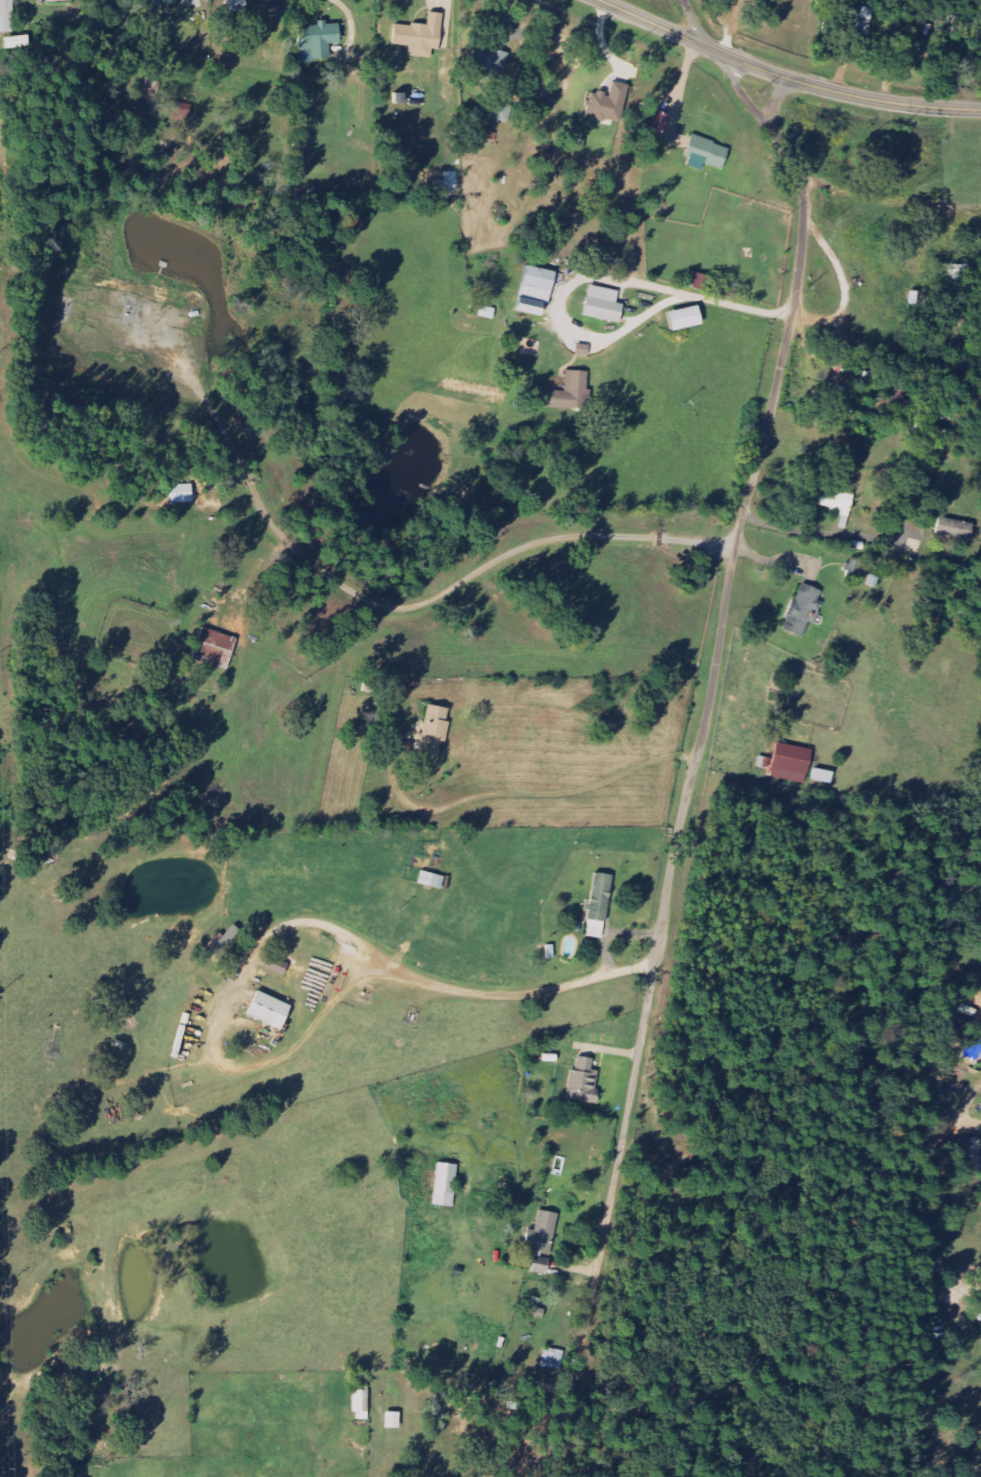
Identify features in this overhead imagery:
building: (161, 2)
building: (239, 6)
building: (268, 7)
building: (7, 15)
road: (694, 21)
building: (422, 36)
building: (319, 41)
building: (18, 42)
building: (490, 57)
road: (784, 76)
road: (773, 101)
building: (608, 104)
building: (183, 112)
building: (660, 125)
building: (708, 154)
road: (889, 201)
building: (960, 278)
building: (698, 280)
building: (538, 291)
building: (606, 304)
building: (488, 312)
building: (687, 318)
building: (183, 493)
building: (839, 503)
building: (956, 528)
building: (805, 608)
road: (718, 633)
building: (216, 648)
building: (435, 732)
building: (766, 762)
building: (792, 762)
building: (825, 775)
building: (601, 905)
building: (278, 965)
building: (271, 1009)
building: (585, 1082)
building: (973, 1153)
building: (447, 1184)
building: (544, 1233)
road: (590, 1301)
building: (537, 1311)
building: (555, 1358)
building: (362, 1404)
building: (394, 1420)
building: (488, 1476)

